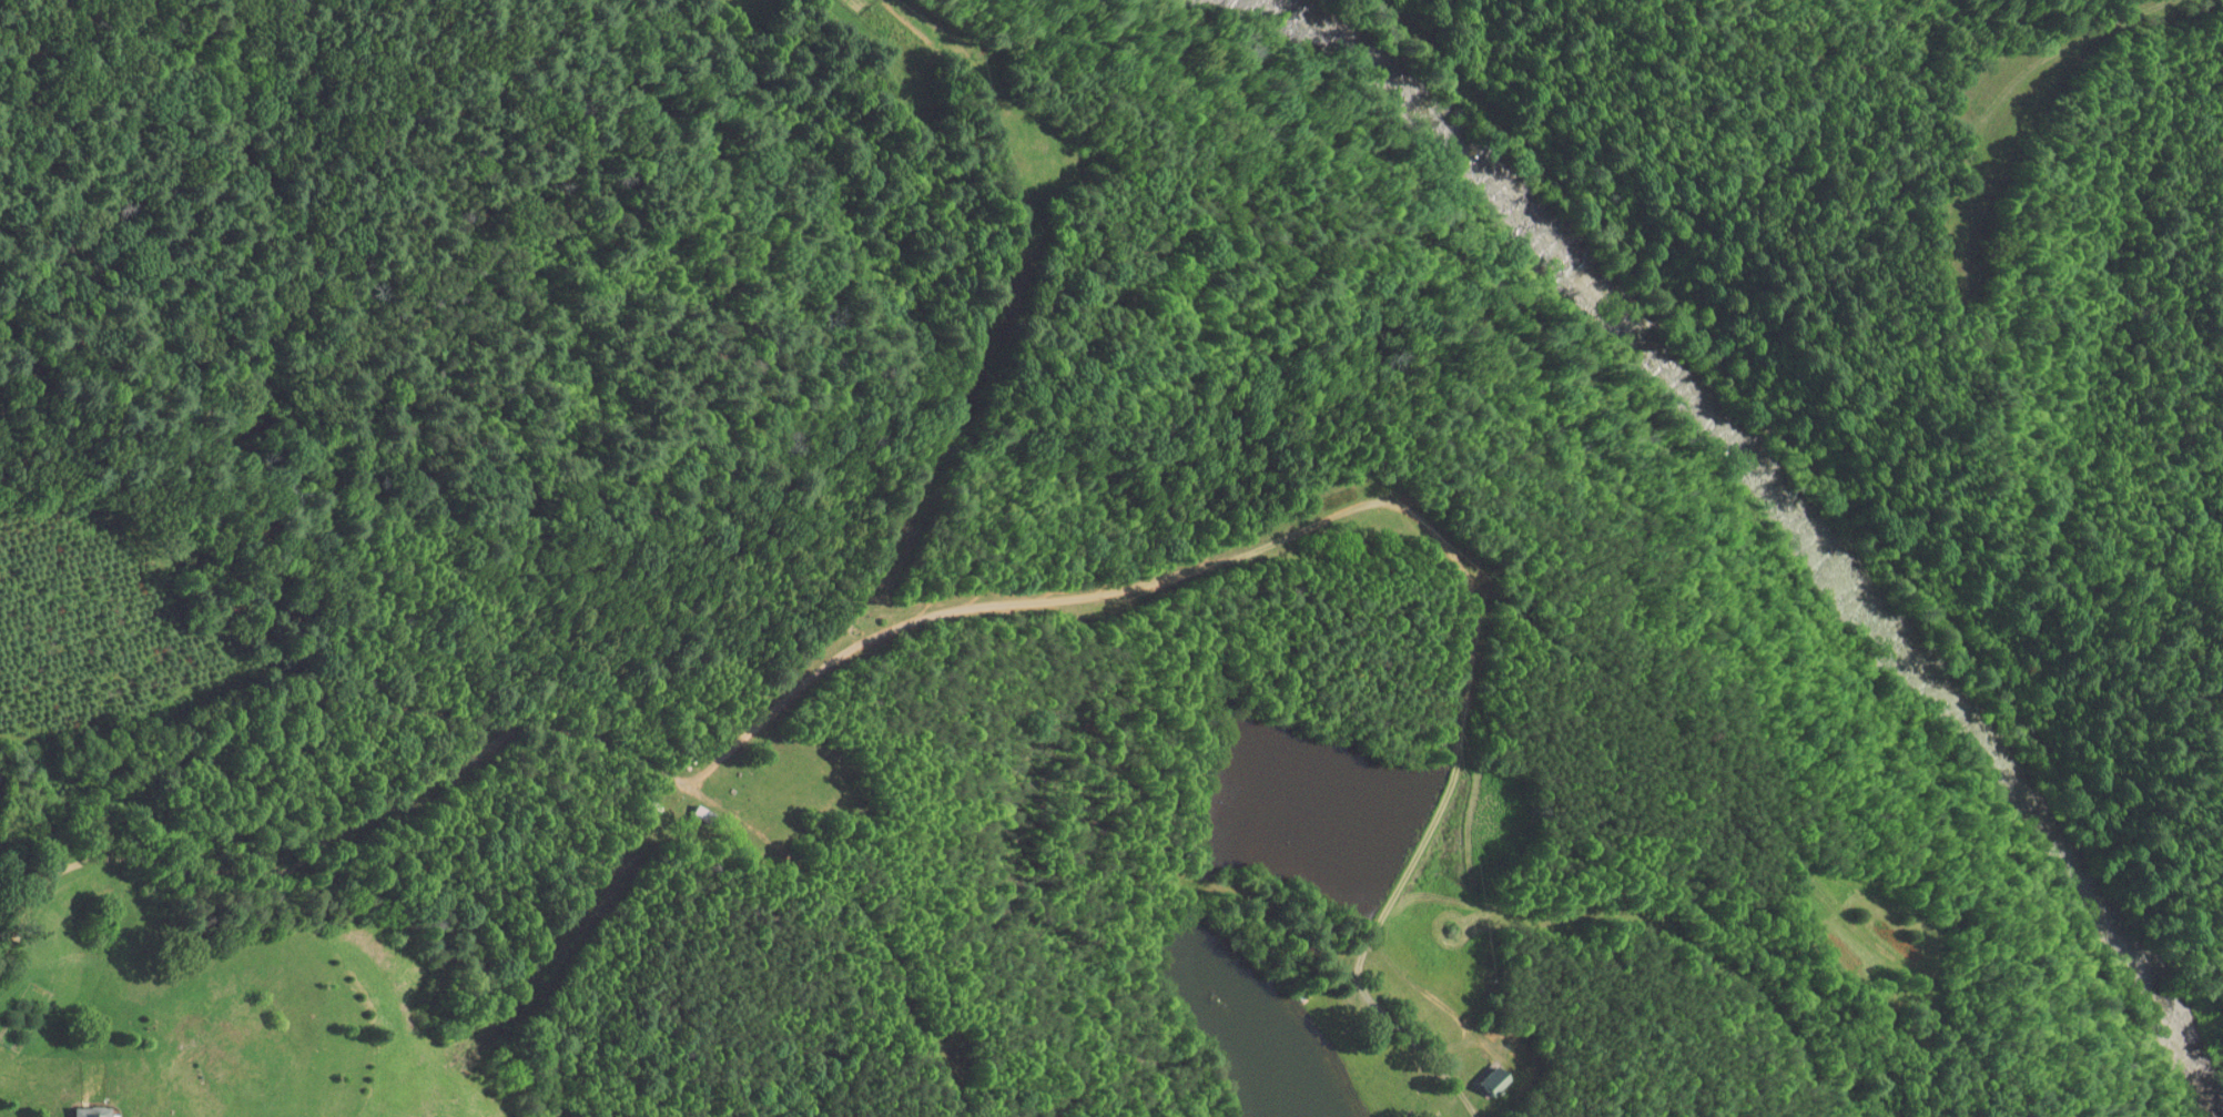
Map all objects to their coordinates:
river: (1775, 498)
road: (840, 653)
building: (1476, 1074)
building: (79, 1108)

